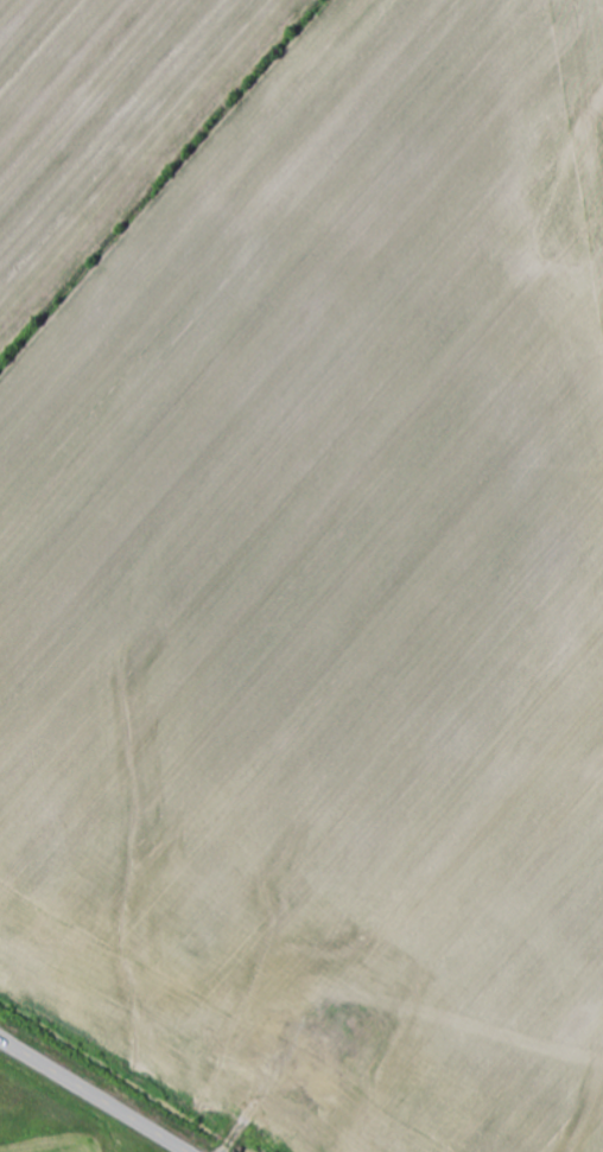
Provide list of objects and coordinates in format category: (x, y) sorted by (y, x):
road: (267, 1082)
road: (91, 1095)

